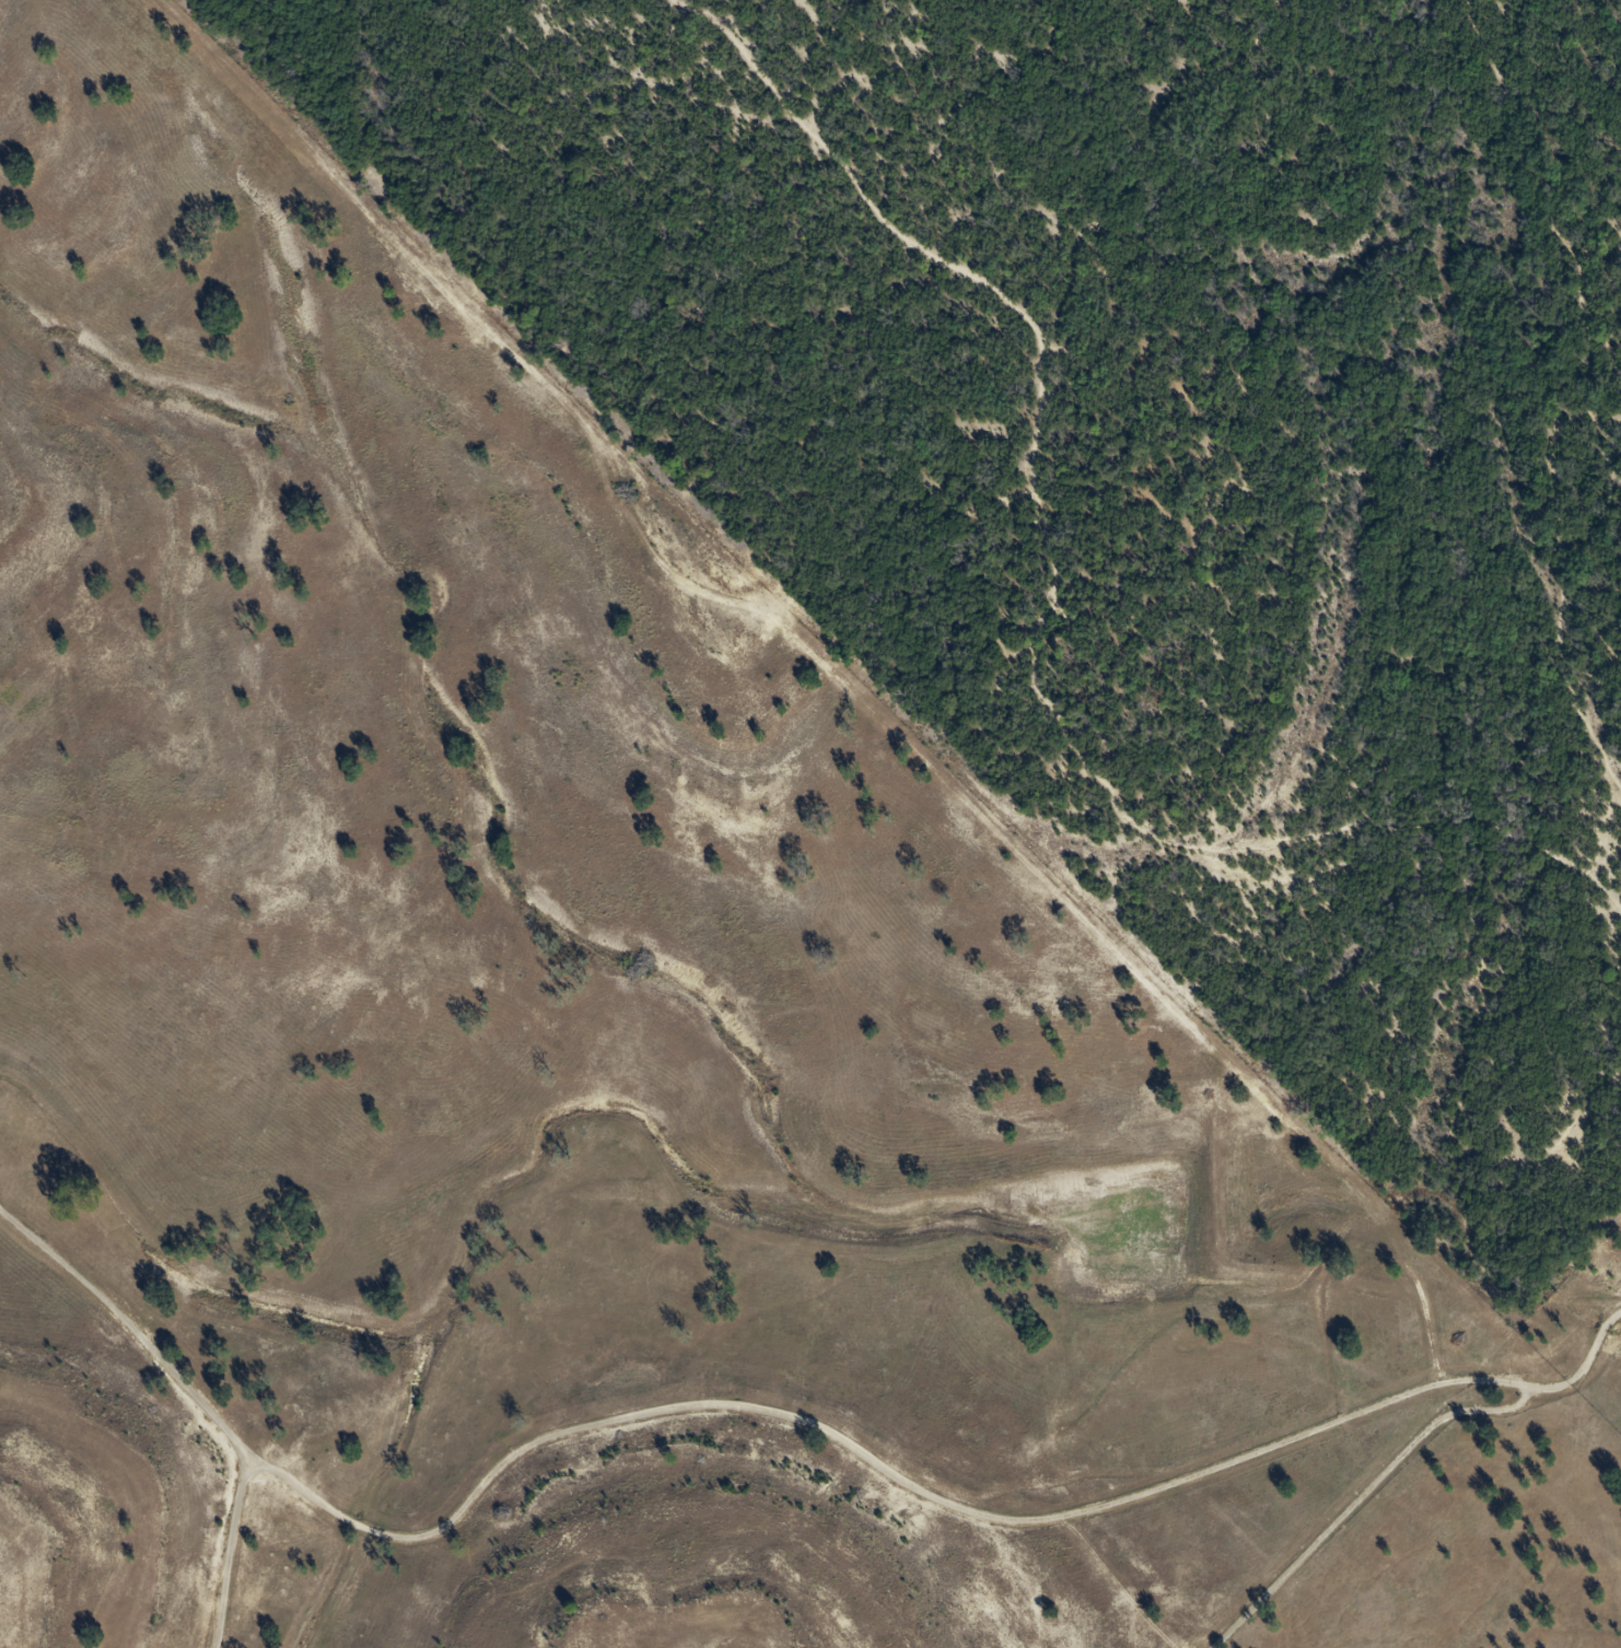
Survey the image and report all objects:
park: (1141, 463)
road: (1605, 1337)

